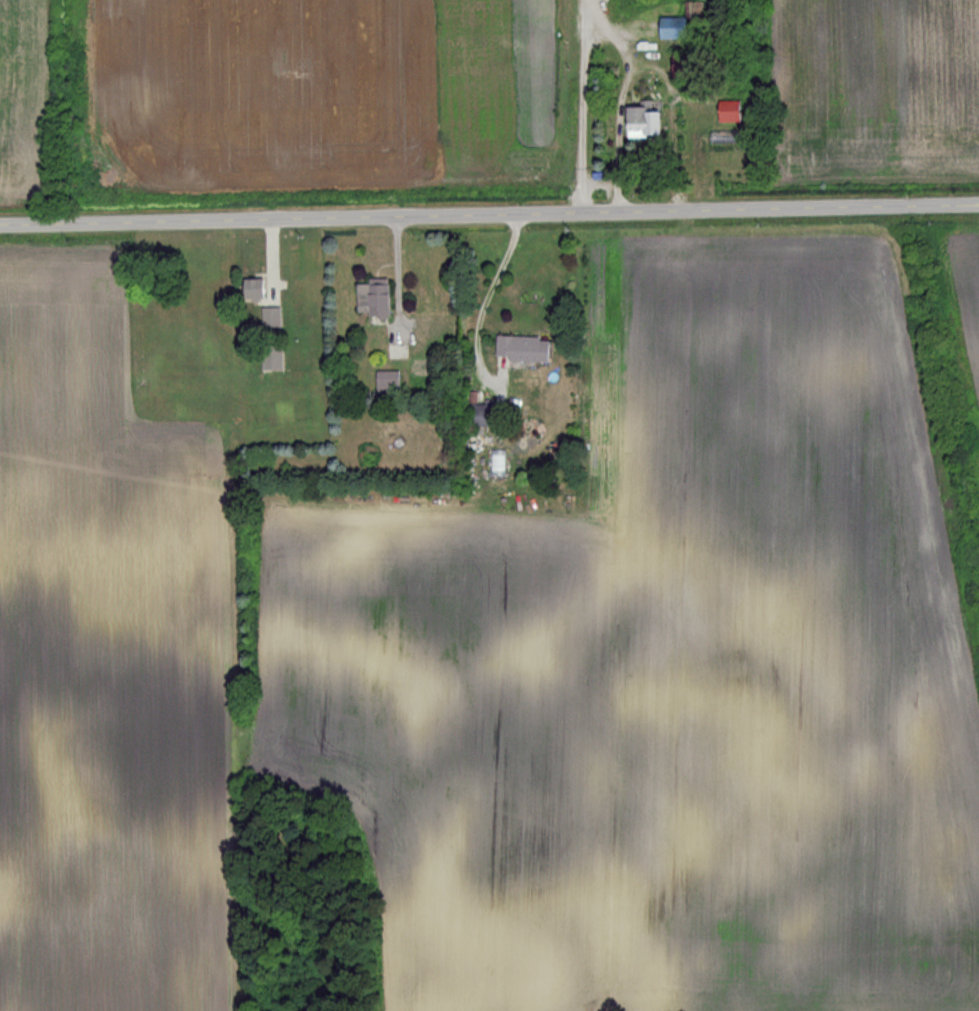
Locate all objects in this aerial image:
building: (667, 29)
road: (644, 67)
road: (583, 105)
building: (726, 112)
building: (641, 120)
road: (489, 212)
building: (252, 289)
road: (489, 293)
building: (371, 299)
building: (519, 350)
building: (386, 384)
building: (476, 426)

